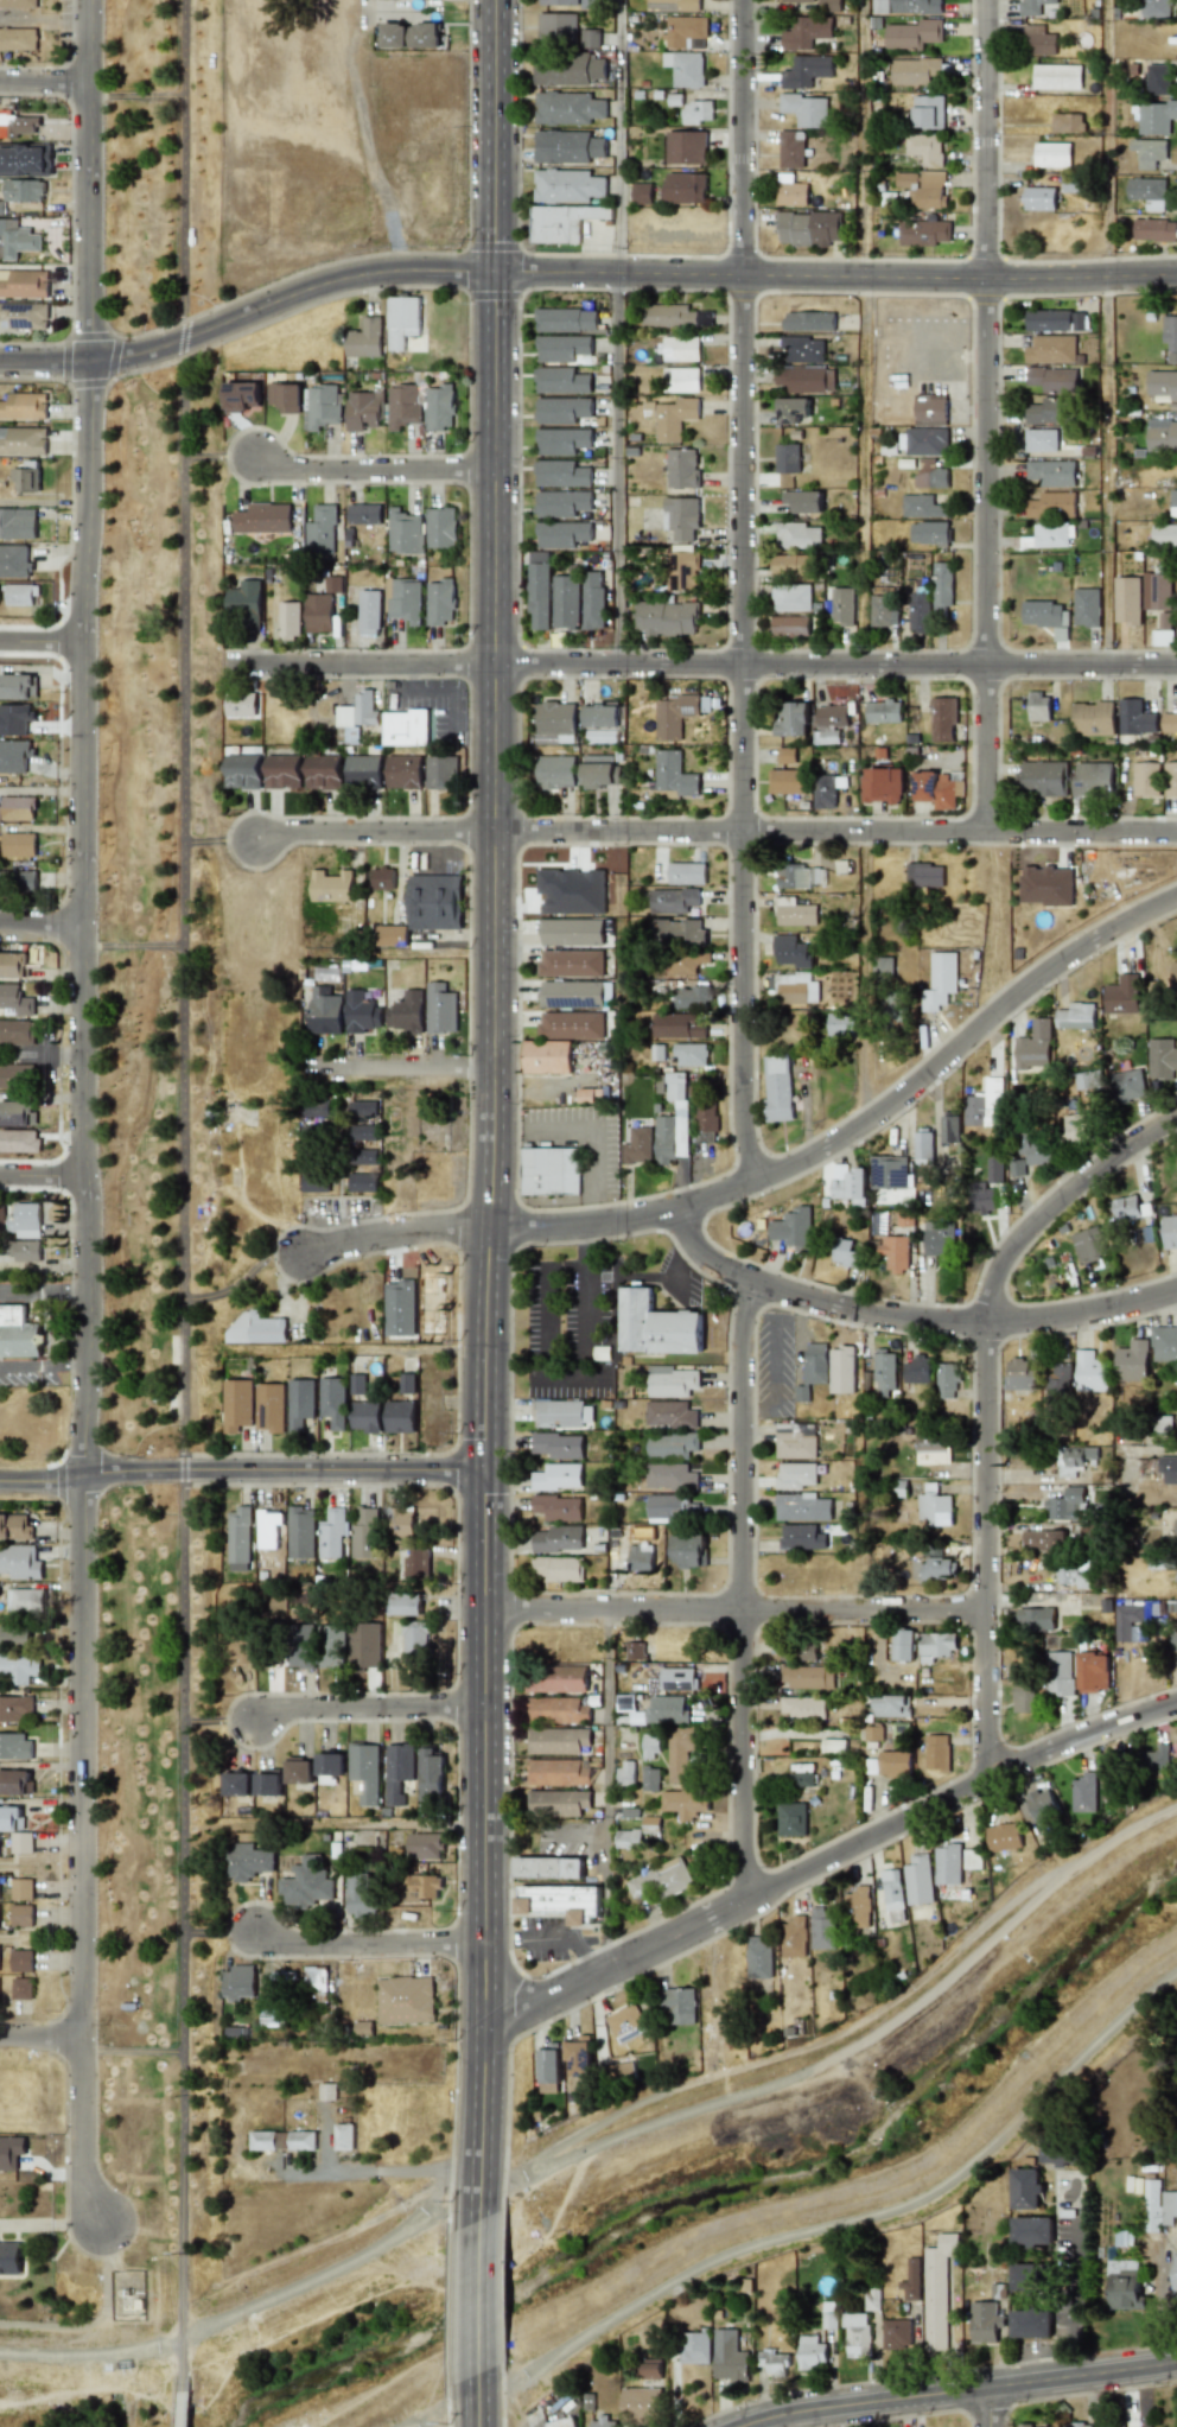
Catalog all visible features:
building: (797, 1)
building: (558, 2)
building: (18, 4)
building: (673, 5)
building: (829, 6)
building: (1033, 6)
building: (916, 7)
building: (556, 27)
building: (685, 32)
building: (806, 32)
building: (914, 34)
building: (411, 36)
building: (590, 38)
building: (18, 39)
building: (1038, 40)
building: (685, 68)
building: (568, 70)
building: (914, 70)
building: (806, 71)
building: (1056, 76)
building: (1158, 80)
road: (44, 81)
road: (136, 95)
building: (567, 108)
building: (806, 109)
building: (698, 112)
building: (928, 112)
building: (1156, 117)
building: (1068, 122)
building: (21, 126)
road: (365, 138)
building: (567, 147)
building: (686, 147)
building: (791, 148)
building: (925, 148)
building: (1149, 152)
building: (1051, 154)
building: (25, 159)
building: (567, 186)
building: (685, 188)
building: (923, 189)
building: (24, 190)
building: (790, 191)
building: (1147, 192)
building: (642, 193)
building: (1039, 198)
building: (1, 207)
road: (44, 220)
building: (562, 222)
building: (808, 228)
building: (1154, 229)
building: (924, 233)
building: (17, 239)
road: (580, 275)
building: (23, 284)
building: (23, 315)
building: (668, 316)
building: (566, 319)
building: (401, 320)
building: (809, 320)
building: (1055, 320)
road: (1112, 331)
road: (619, 332)
road: (866, 332)
building: (1170, 336)
building: (364, 338)
building: (680, 348)
building: (564, 349)
building: (803, 349)
building: (1051, 349)
building: (681, 379)
building: (806, 379)
building: (1052, 379)
building: (561, 381)
building: (1162, 386)
building: (241, 396)
building: (284, 398)
building: (24, 406)
building: (320, 406)
building: (402, 406)
building: (440, 407)
building: (930, 407)
building: (562, 409)
building: (793, 409)
building: (363, 411)
building: (1048, 411)
road: (990, 415)
building: (672, 417)
building: (1162, 436)
building: (23, 440)
building: (561, 440)
building: (1041, 440)
building: (923, 441)
road: (218, 456)
building: (787, 458)
road: (374, 468)
building: (682, 468)
building: (1051, 472)
building: (561, 474)
building: (930, 474)
building: (26, 477)
building: (803, 501)
building: (1173, 502)
building: (561, 503)
building: (1052, 504)
building: (922, 507)
building: (364, 514)
building: (262, 517)
building: (681, 517)
building: (18, 523)
building: (440, 527)
building: (320, 530)
building: (405, 532)
building: (929, 532)
building: (562, 534)
building: (797, 535)
building: (1050, 535)
building: (1164, 535)
building: (14, 560)
building: (790, 566)
building: (682, 571)
building: (942, 587)
building: (1176, 587)
building: (539, 590)
building: (1157, 591)
road: (743, 593)
building: (791, 597)
building: (403, 599)
building: (592, 599)
building: (1127, 599)
building: (566, 601)
building: (439, 602)
building: (244, 604)
building: (842, 605)
building: (1087, 606)
building: (880, 610)
building: (369, 611)
building: (318, 612)
building: (918, 612)
building: (1042, 614)
building: (667, 618)
building: (1164, 620)
building: (288, 621)
building: (790, 625)
road: (40, 638)
road: (699, 665)
road: (405, 676)
building: (18, 686)
road: (395, 690)
road: (453, 690)
building: (240, 704)
building: (1038, 706)
building: (358, 711)
building: (883, 711)
building: (603, 714)
building: (673, 714)
building: (1134, 717)
building: (14, 718)
building: (555, 718)
building: (1093, 718)
building: (791, 719)
building: (942, 719)
building: (829, 722)
building: (1169, 723)
building: (405, 728)
building: (787, 755)
building: (14, 756)
building: (282, 770)
building: (555, 770)
building: (242, 771)
building: (323, 771)
building: (363, 771)
building: (403, 771)
building: (600, 771)
building: (440, 774)
building: (674, 774)
building: (1093, 777)
building: (1042, 779)
building: (1145, 779)
building: (1170, 779)
building: (787, 781)
building: (883, 784)
building: (936, 789)
building: (827, 790)
building: (18, 808)
road: (715, 831)
road: (220, 839)
building: (18, 845)
building: (686, 872)
building: (924, 875)
building: (382, 878)
building: (24, 882)
building: (1045, 885)
building: (331, 887)
building: (673, 900)
building: (434, 902)
building: (794, 911)
road: (40, 921)
building: (571, 932)
building: (677, 932)
building: (390, 935)
road: (132, 945)
building: (791, 952)
road: (399, 955)
building: (694, 960)
building: (571, 962)
building: (13, 965)
building: (882, 966)
building: (1173, 972)
road: (867, 977)
building: (940, 980)
building: (796, 989)
building: (571, 993)
building: (1122, 995)
building: (691, 997)
building: (15, 999)
building: (440, 1009)
building: (324, 1010)
building: (405, 1012)
building: (361, 1014)
building: (1076, 1016)
building: (571, 1025)
building: (679, 1025)
building: (841, 1025)
road: (624, 1028)
building: (18, 1033)
building: (691, 1054)
building: (1032, 1054)
building: (547, 1056)
building: (1162, 1059)
road: (399, 1074)
building: (15, 1075)
building: (1087, 1084)
building: (1128, 1085)
building: (777, 1087)
building: (590, 1095)
building: (985, 1105)
building: (363, 1107)
building: (316, 1108)
road: (82, 1111)
road: (497, 1111)
building: (17, 1113)
building: (673, 1120)
road: (592, 1124)
building: (706, 1124)
road: (508, 1125)
building: (1077, 1126)
building: (949, 1129)
building: (363, 1132)
building: (19, 1141)
building: (637, 1146)
building: (1036, 1146)
building: (923, 1148)
building: (364, 1157)
building: (1017, 1167)
building: (994, 1168)
building: (552, 1170)
road: (40, 1174)
building: (889, 1176)
road: (775, 1180)
building: (363, 1182)
building: (314, 1183)
building: (848, 1183)
road: (183, 1188)
building: (981, 1196)
road: (1060, 1205)
building: (1128, 1207)
building: (1, 1213)
building: (904, 1219)
building: (25, 1220)
building: (793, 1228)
building: (1169, 1231)
building: (939, 1237)
building: (1089, 1244)
road: (581, 1247)
building: (24, 1250)
building: (895, 1252)
building: (845, 1253)
road: (561, 1265)
road: (242, 1277)
road: (611, 1286)
road: (26, 1289)
road: (68, 1290)
building: (400, 1308)
road: (908, 1315)
road: (540, 1321)
road: (581, 1322)
building: (657, 1327)
building: (255, 1328)
building: (18, 1334)
building: (1164, 1343)
road: (350, 1353)
road: (560, 1353)
building: (1132, 1361)
road: (772, 1362)
building: (815, 1365)
road: (66, 1368)
building: (921, 1368)
road: (25, 1370)
building: (1090, 1372)
building: (884, 1373)
building: (1020, 1374)
road: (560, 1378)
road: (596, 1379)
building: (947, 1380)
building: (672, 1381)
building: (407, 1383)
building: (1060, 1383)
building: (332, 1402)
building: (300, 1403)
building: (237, 1405)
road: (757, 1406)
building: (269, 1408)
building: (561, 1413)
building: (670, 1413)
building: (364, 1417)
building: (399, 1417)
building: (796, 1440)
building: (559, 1446)
building: (672, 1446)
building: (930, 1448)
building: (1079, 1456)
road: (865, 1457)
road: (238, 1468)
building: (1169, 1468)
building: (795, 1475)
building: (1127, 1475)
building: (670, 1476)
building: (559, 1478)
building: (1068, 1505)
building: (934, 1506)
building: (559, 1507)
building: (672, 1507)
building: (802, 1507)
building: (403, 1521)
building: (14, 1527)
building: (268, 1527)
building: (300, 1532)
building: (332, 1533)
building: (364, 1535)
building: (801, 1537)
building: (238, 1539)
building: (559, 1539)
building: (1043, 1539)
road: (987, 1550)
building: (689, 1551)
building: (641, 1558)
building: (20, 1562)
building: (416, 1562)
building: (559, 1568)
building: (937, 1568)
building: (1074, 1575)
road: (742, 1584)
road: (351, 1590)
building: (23, 1600)
building: (405, 1603)
road: (733, 1608)
building: (1036, 1619)
building: (1124, 1624)
building: (15, 1635)
building: (1173, 1640)
building: (415, 1644)
building: (364, 1645)
building: (300, 1646)
building: (903, 1646)
building: (936, 1646)
building: (331, 1648)
building: (635, 1650)
building: (20, 1666)
building: (1094, 1672)
building: (1058, 1673)
building: (807, 1677)
building: (560, 1678)
building: (1023, 1696)
building: (625, 1704)
building: (803, 1707)
building: (891, 1707)
building: (14, 1708)
road: (367, 1710)
building: (558, 1710)
building: (667, 1710)
road: (220, 1721)
building: (558, 1740)
building: (833, 1745)
building: (15, 1746)
building: (649, 1747)
building: (936, 1752)
building: (681, 1753)
building: (1154, 1759)
building: (893, 1764)
building: (330, 1767)
building: (397, 1770)
building: (298, 1771)
building: (364, 1771)
building: (556, 1772)
building: (625, 1772)
building: (431, 1774)
building: (650, 1779)
building: (801, 1779)
building: (15, 1783)
building: (268, 1783)
building: (1112, 1783)
building: (236, 1784)
road: (610, 1790)
building: (1083, 1793)
building: (558, 1803)
building: (682, 1804)
building: (1037, 1806)
building: (11, 1818)
building: (791, 1819)
road: (1138, 1826)
road: (351, 1829)
building: (1004, 1836)
building: (626, 1838)
building: (21, 1842)
building: (424, 1845)
road: (826, 1861)
building: (246, 1862)
building: (947, 1864)
building: (548, 1868)
building: (661, 1879)
building: (918, 1880)
building: (307, 1883)
building: (420, 1887)
building: (21, 1889)
building: (891, 1889)
building: (361, 1894)
building: (561, 1901)
building: (859, 1907)
building: (21, 1915)
building: (822, 1929)
road: (218, 1932)
building: (794, 1937)
road: (364, 1945)
building: (759, 1957)
building: (21, 1959)
building: (316, 1980)
building: (237, 1982)
building: (21, 1988)
building: (405, 2000)
building: (676, 2006)
building: (625, 2023)
road: (39, 2038)
road: (132, 2050)
building: (578, 2056)
building: (548, 2064)
building: (336, 2091)
building: (343, 2136)
building: (281, 2140)
building: (11, 2152)
building: (1058, 2154)
road: (371, 2167)
road: (482, 2190)
building: (1025, 2190)
building: (1151, 2205)
building: (1169, 2207)
road: (850, 2219)
building: (1031, 2232)
building: (9, 2258)
building: (1175, 2275)
building: (1023, 2276)
building: (911, 2280)
road: (1074, 2280)
building: (1124, 2286)
building: (937, 2292)
road: (479, 2296)
road: (256, 2305)
road: (1160, 2313)
road: (98, 2318)
building: (985, 2321)
building: (1031, 2324)
building: (896, 2334)
building: (857, 2336)
building: (693, 2347)
building: (810, 2352)
building: (729, 2357)
building: (772, 2362)
building: (650, 2368)
road: (956, 2391)
road: (479, 2400)
road: (183, 2401)
building: (640, 2406)
road: (992, 2407)
building: (561, 2422)
building: (603, 2422)
building: (1028, 2425)
building: (1079, 2425)

